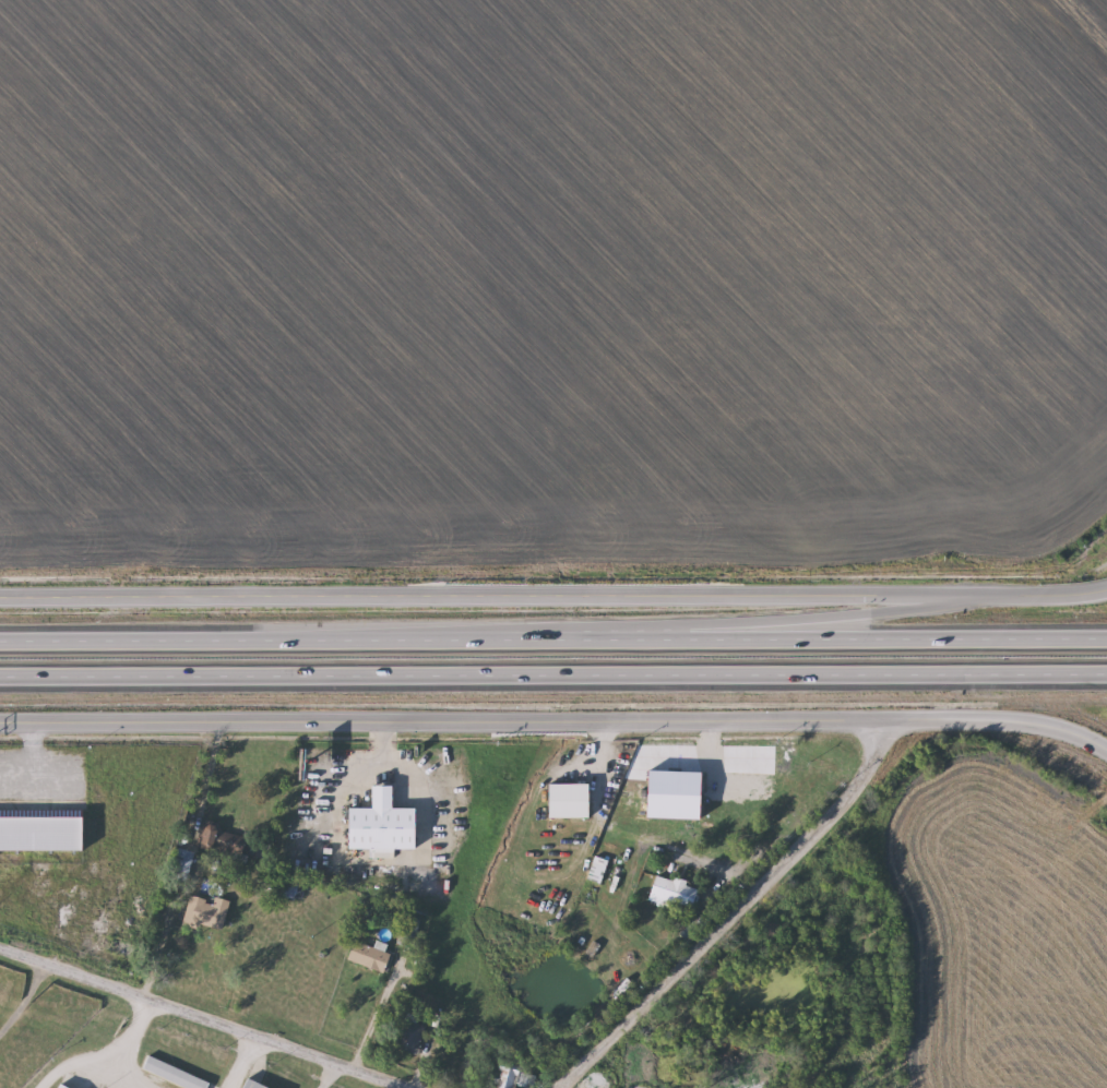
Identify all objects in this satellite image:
road: (1045, 594)
road: (491, 597)
road: (797, 615)
road: (552, 636)
road: (553, 672)
road: (556, 720)
road: (209, 762)
building: (571, 800)
building: (385, 824)
building: (38, 829)
road: (358, 859)
building: (596, 869)
building: (287, 886)
building: (674, 890)
road: (727, 909)
building: (207, 911)
building: (408, 931)
building: (370, 955)
road: (151, 975)
road: (26, 999)
road: (203, 1015)
road: (376, 1017)
building: (409, 1035)
road: (248, 1062)
road: (116, 1073)
building: (175, 1074)
road: (332, 1076)
building: (514, 1078)
building: (61, 1086)
building: (262, 1087)

